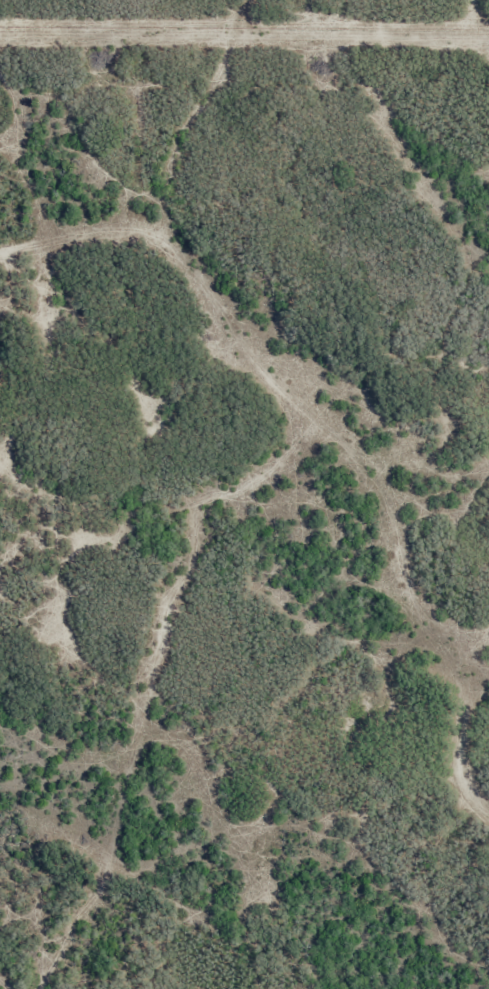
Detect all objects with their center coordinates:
road: (271, 377)

